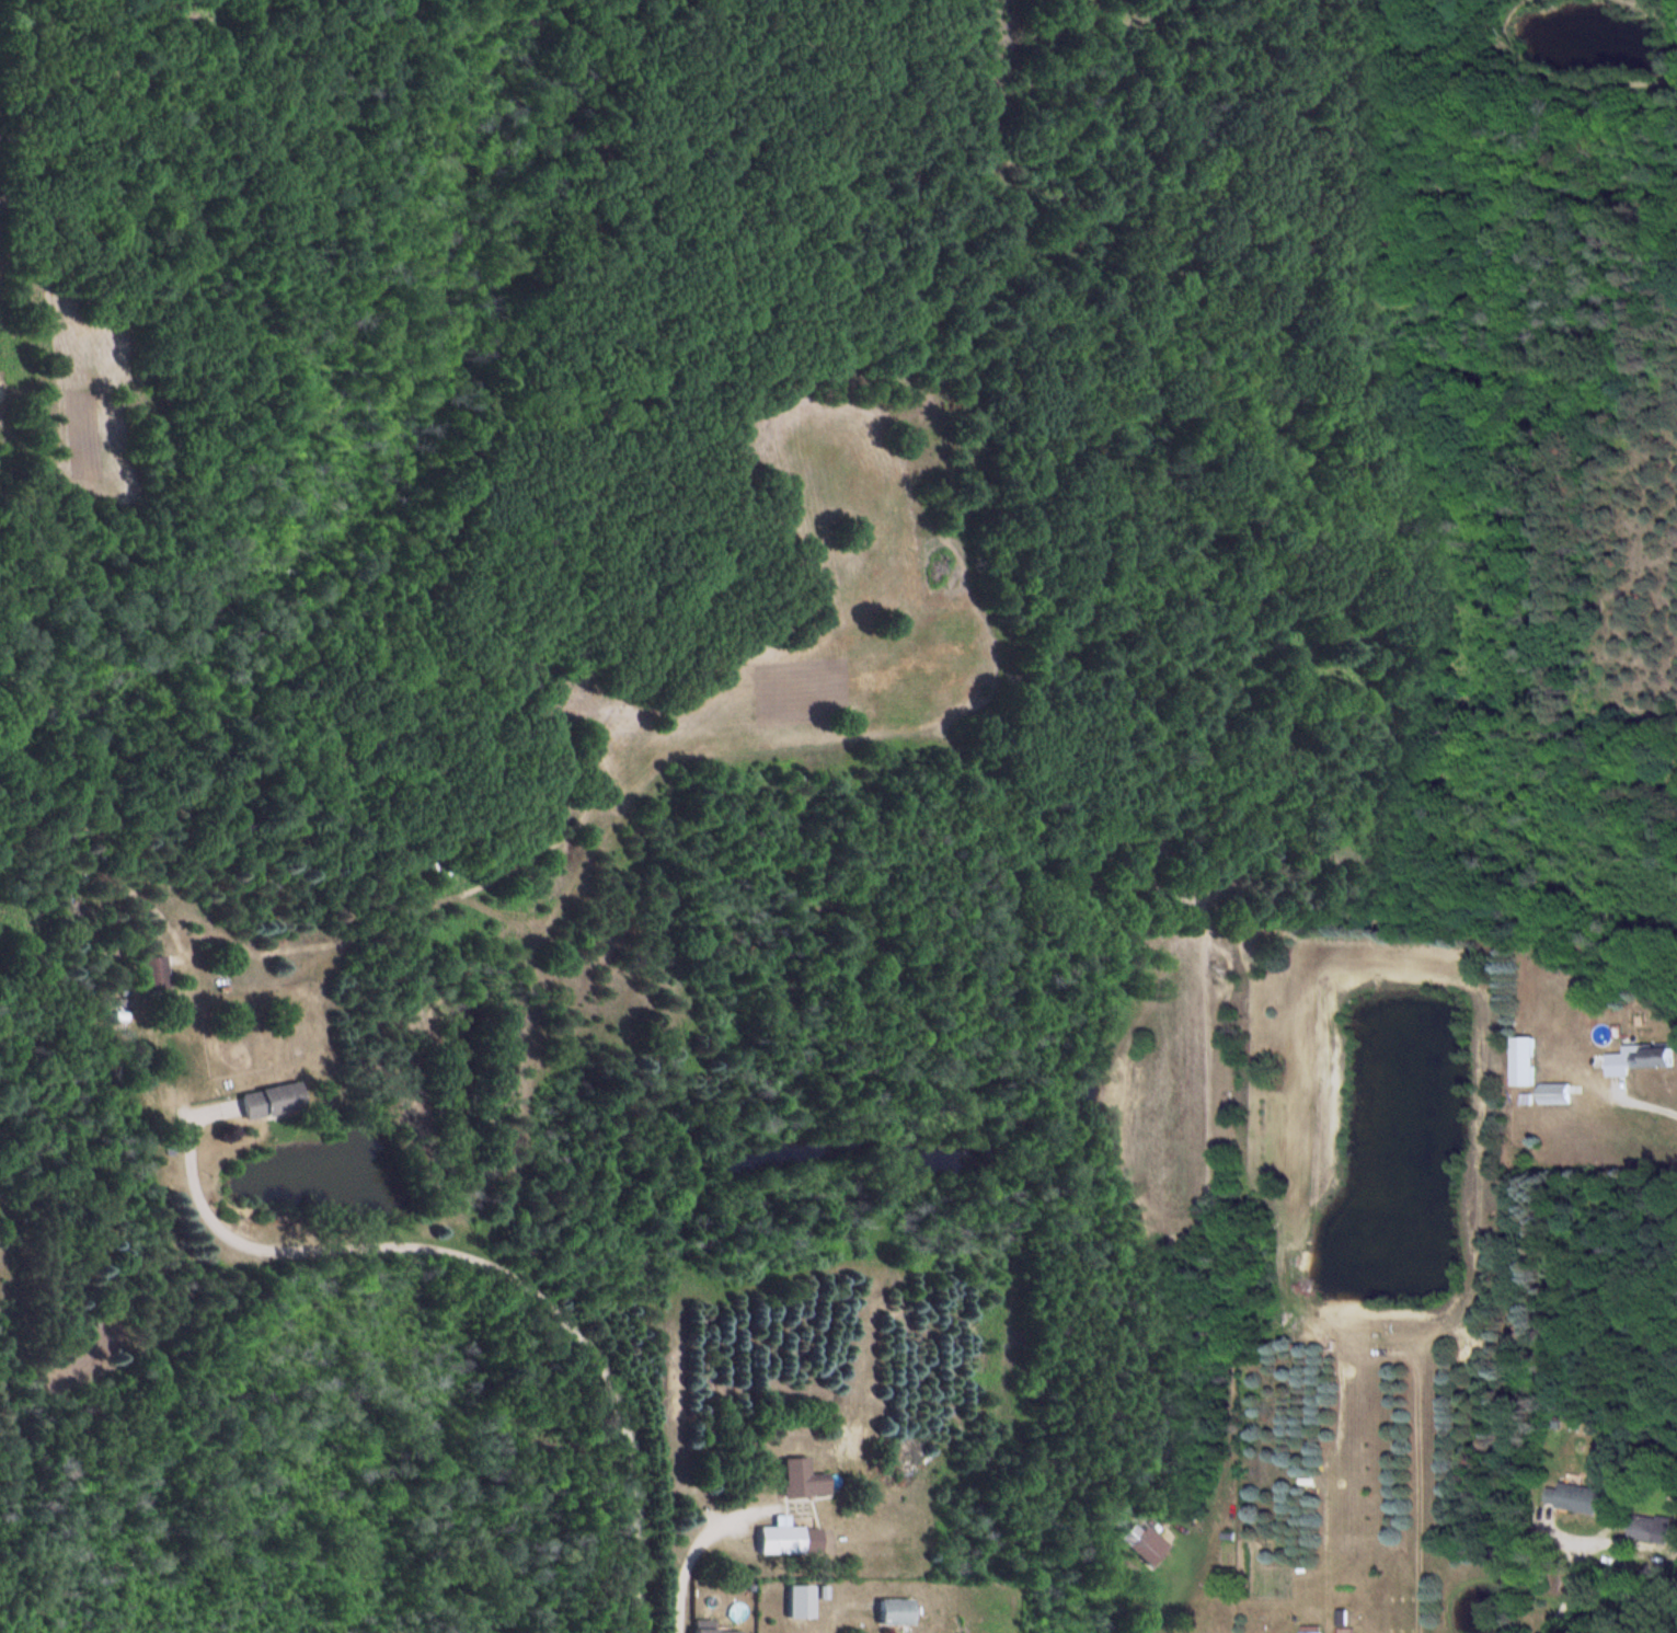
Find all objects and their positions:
building: (156, 975)
building: (1642, 1060)
building: (1527, 1062)
building: (1559, 1095)
building: (274, 1102)
road: (519, 1275)
building: (804, 1481)
building: (1578, 1499)
building: (1653, 1530)
building: (791, 1541)
road: (699, 1546)
building: (1150, 1550)
road: (1574, 1588)
building: (898, 1612)
building: (707, 1626)
building: (1313, 1632)

